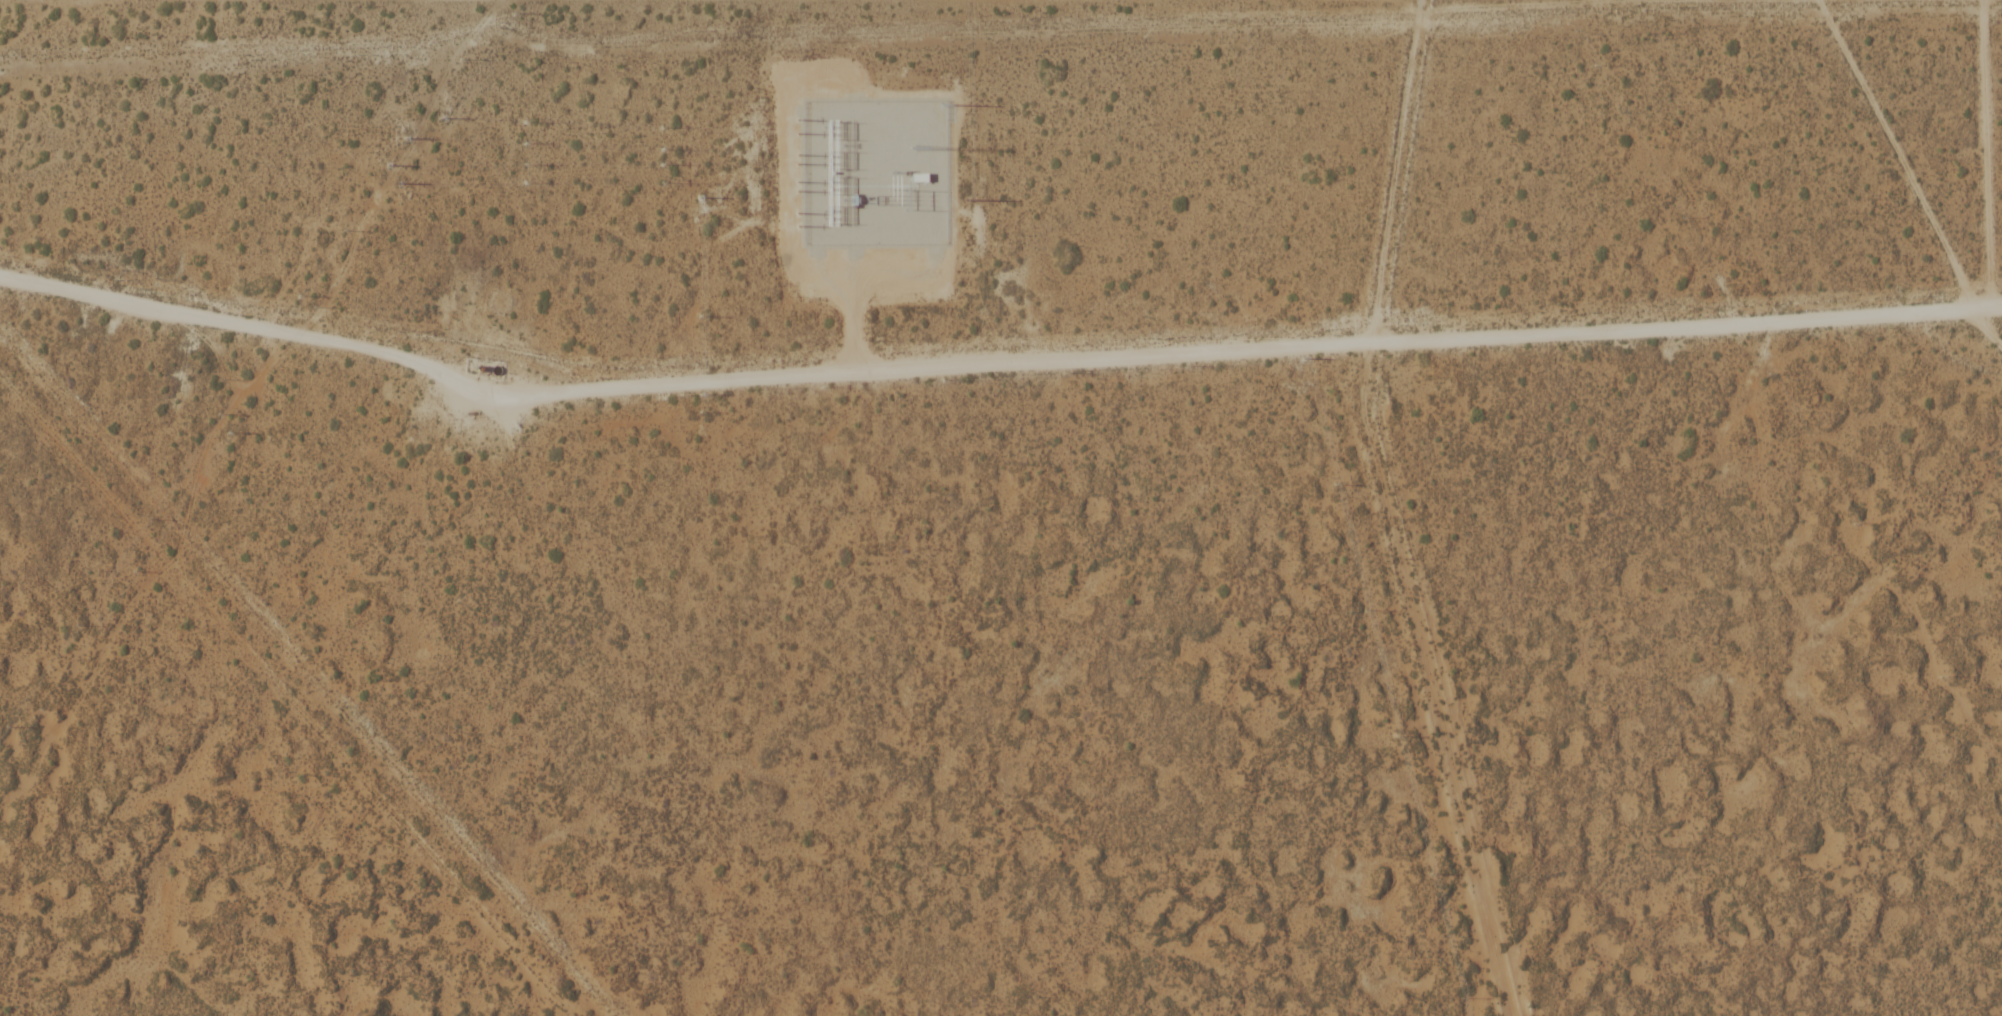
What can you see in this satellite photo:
road: (1988, 153)
power substation: (874, 172)
road: (991, 372)

